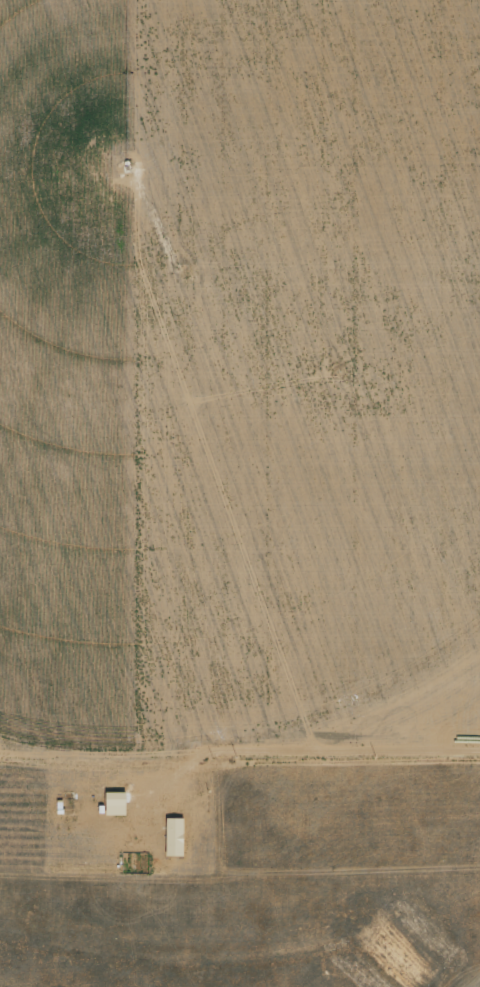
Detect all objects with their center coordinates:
road: (291, 765)
building: (175, 836)
road: (240, 886)

